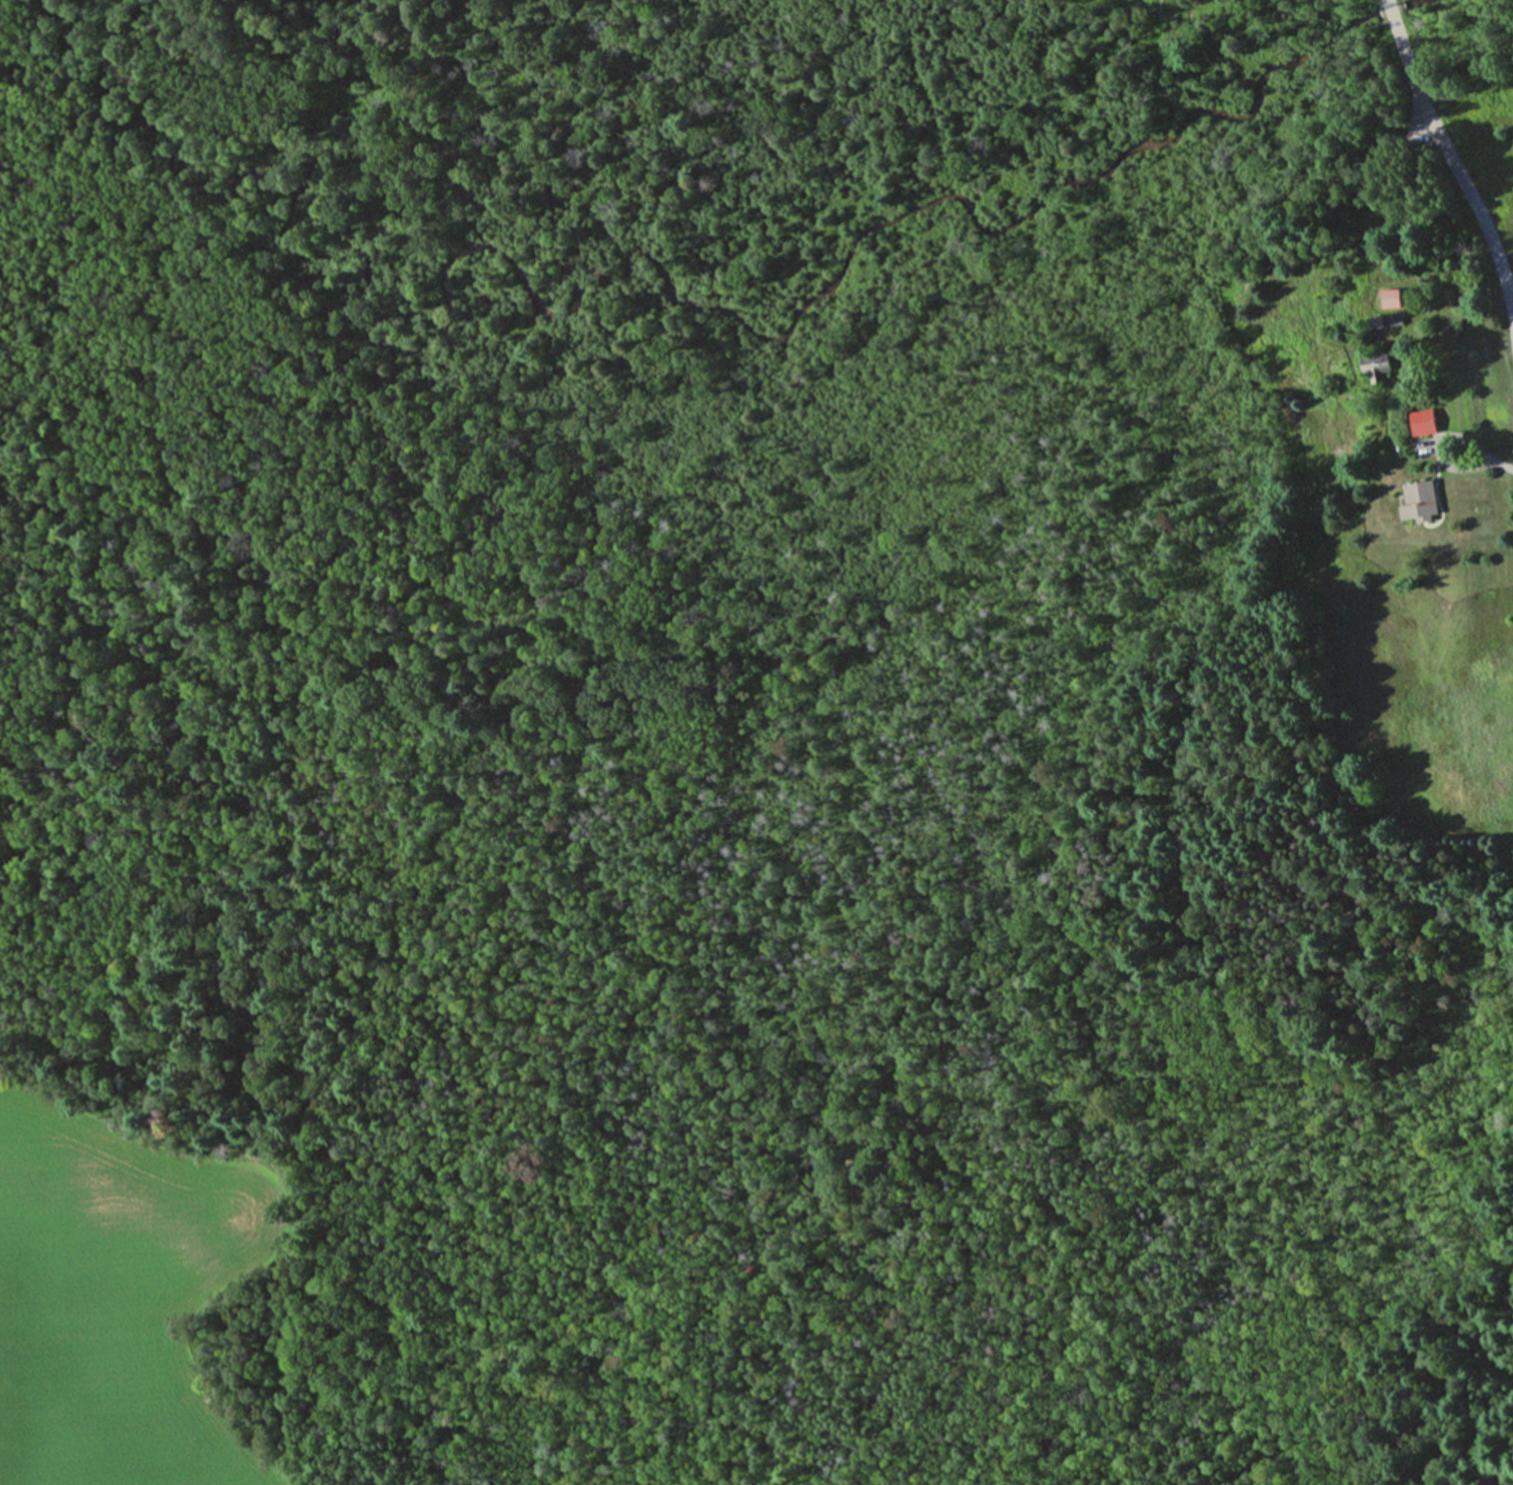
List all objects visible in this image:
road: (1393, 18)
road: (1461, 173)
building: (1388, 298)
building: (1371, 362)
building: (1419, 421)
road: (1490, 459)
building: (1415, 499)

